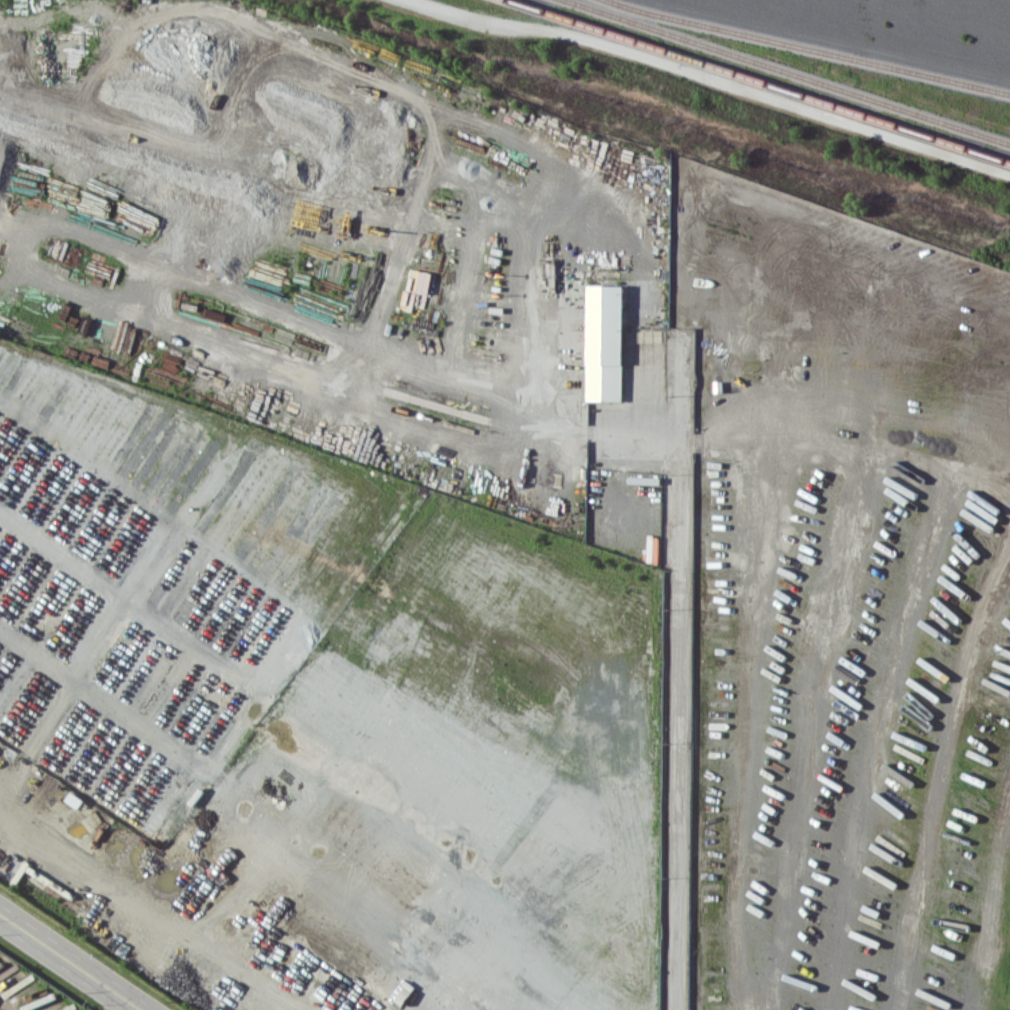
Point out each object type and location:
railway: (809, 47)
railway: (790, 70)
road: (710, 80)
railway: (760, 80)
building: (603, 343)
road: (678, 669)
road: (71, 961)

